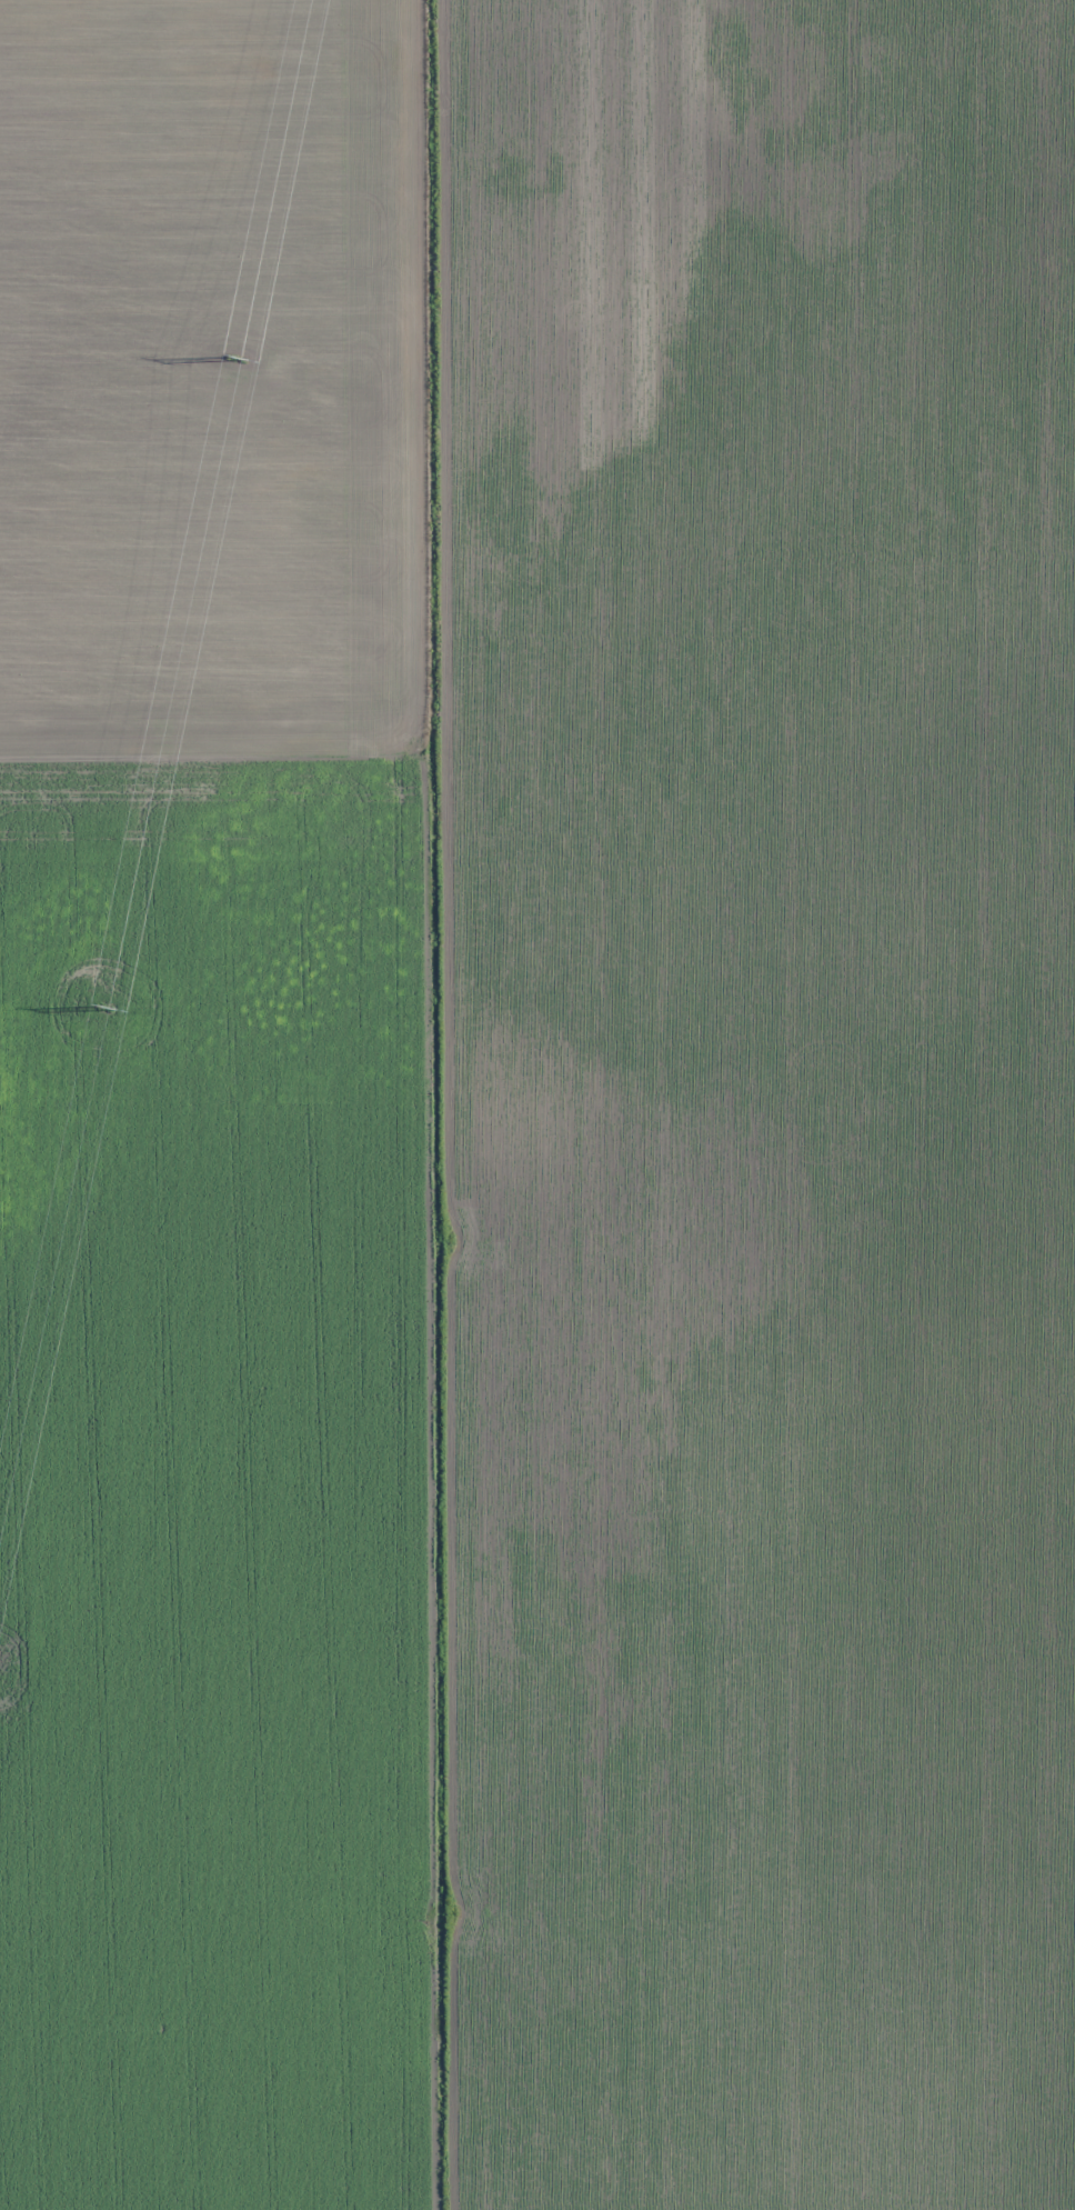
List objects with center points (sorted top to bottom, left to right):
power tower: (235, 357)
power tower: (109, 1003)

